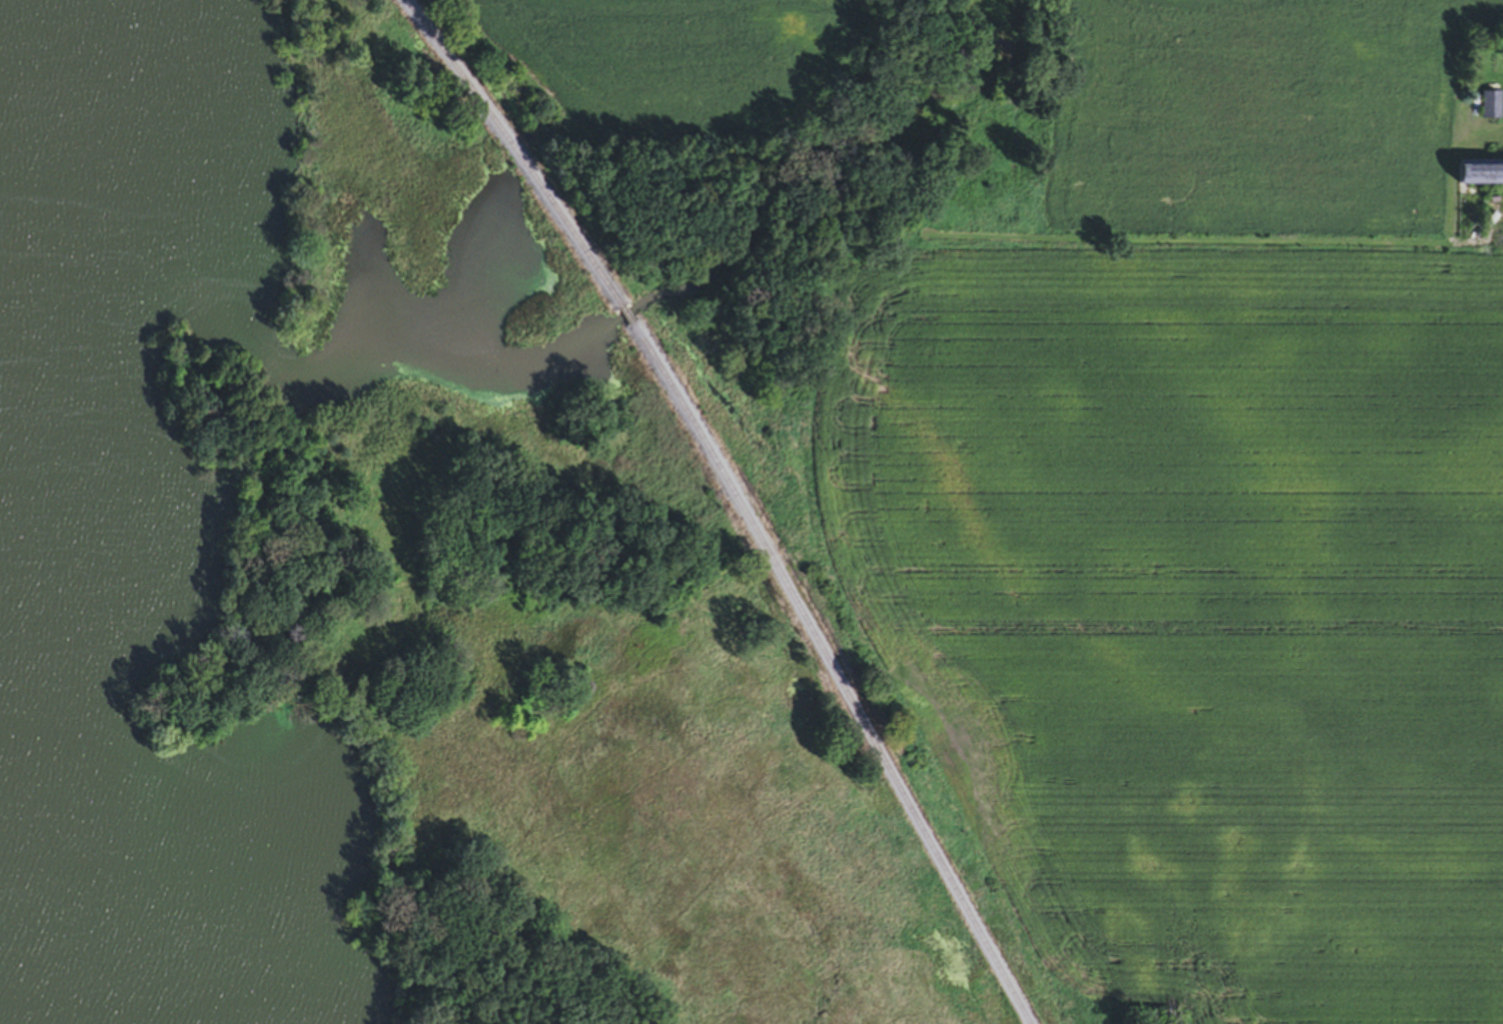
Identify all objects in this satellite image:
building: (1484, 107)
railway: (516, 152)
building: (1474, 175)
railway: (626, 318)
railway: (831, 674)

